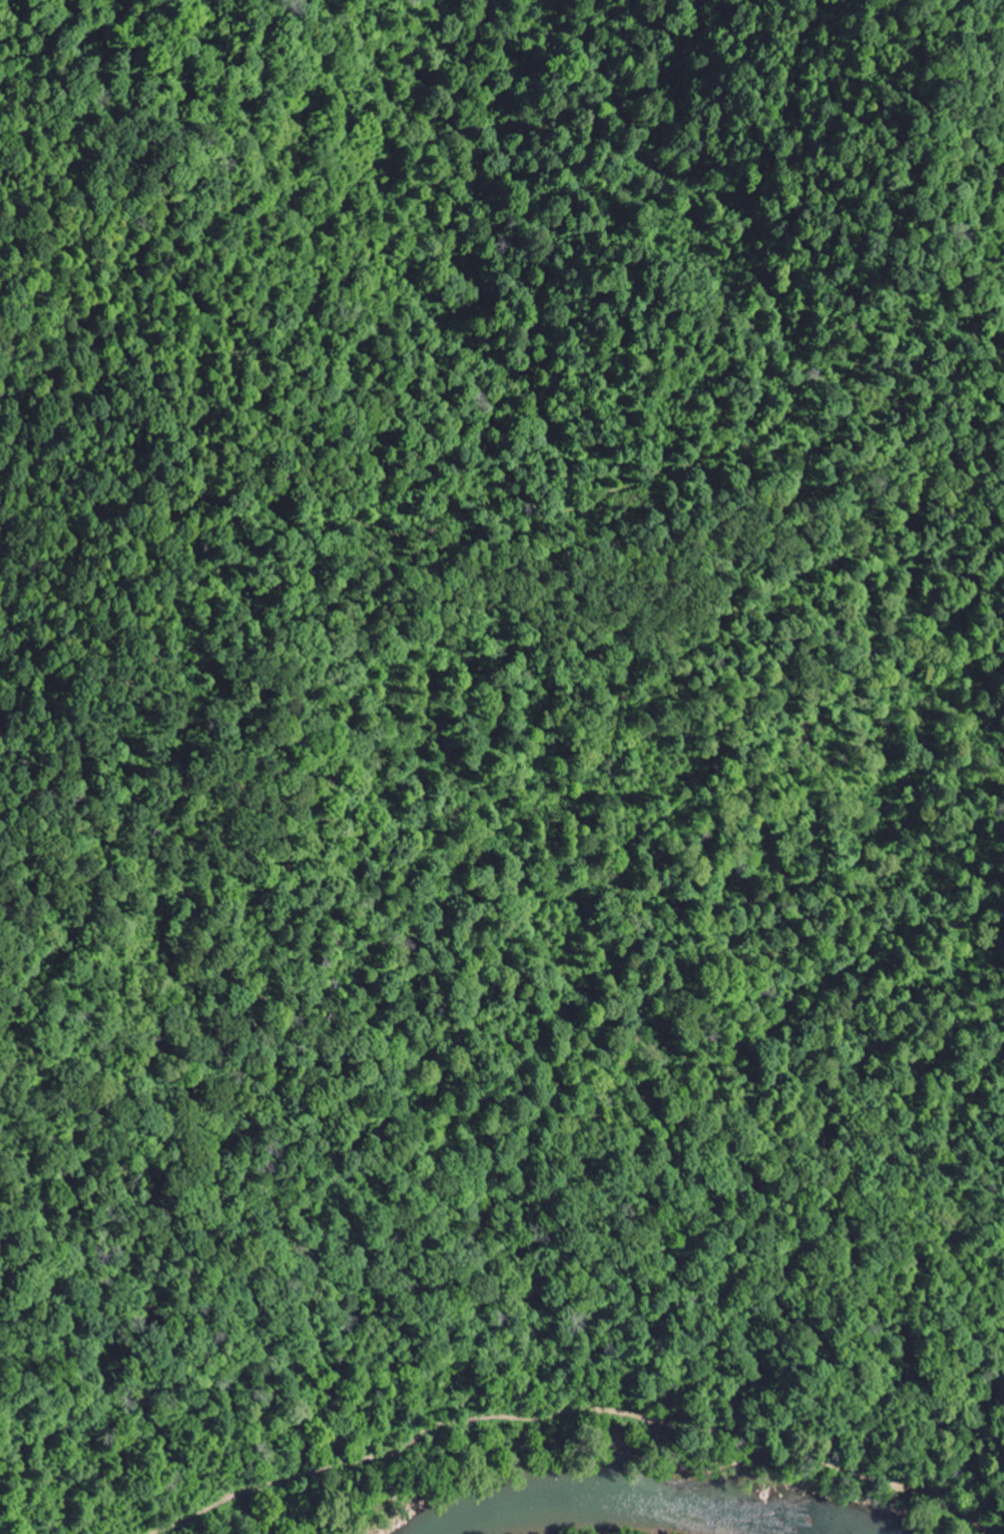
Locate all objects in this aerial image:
river: (628, 1507)

